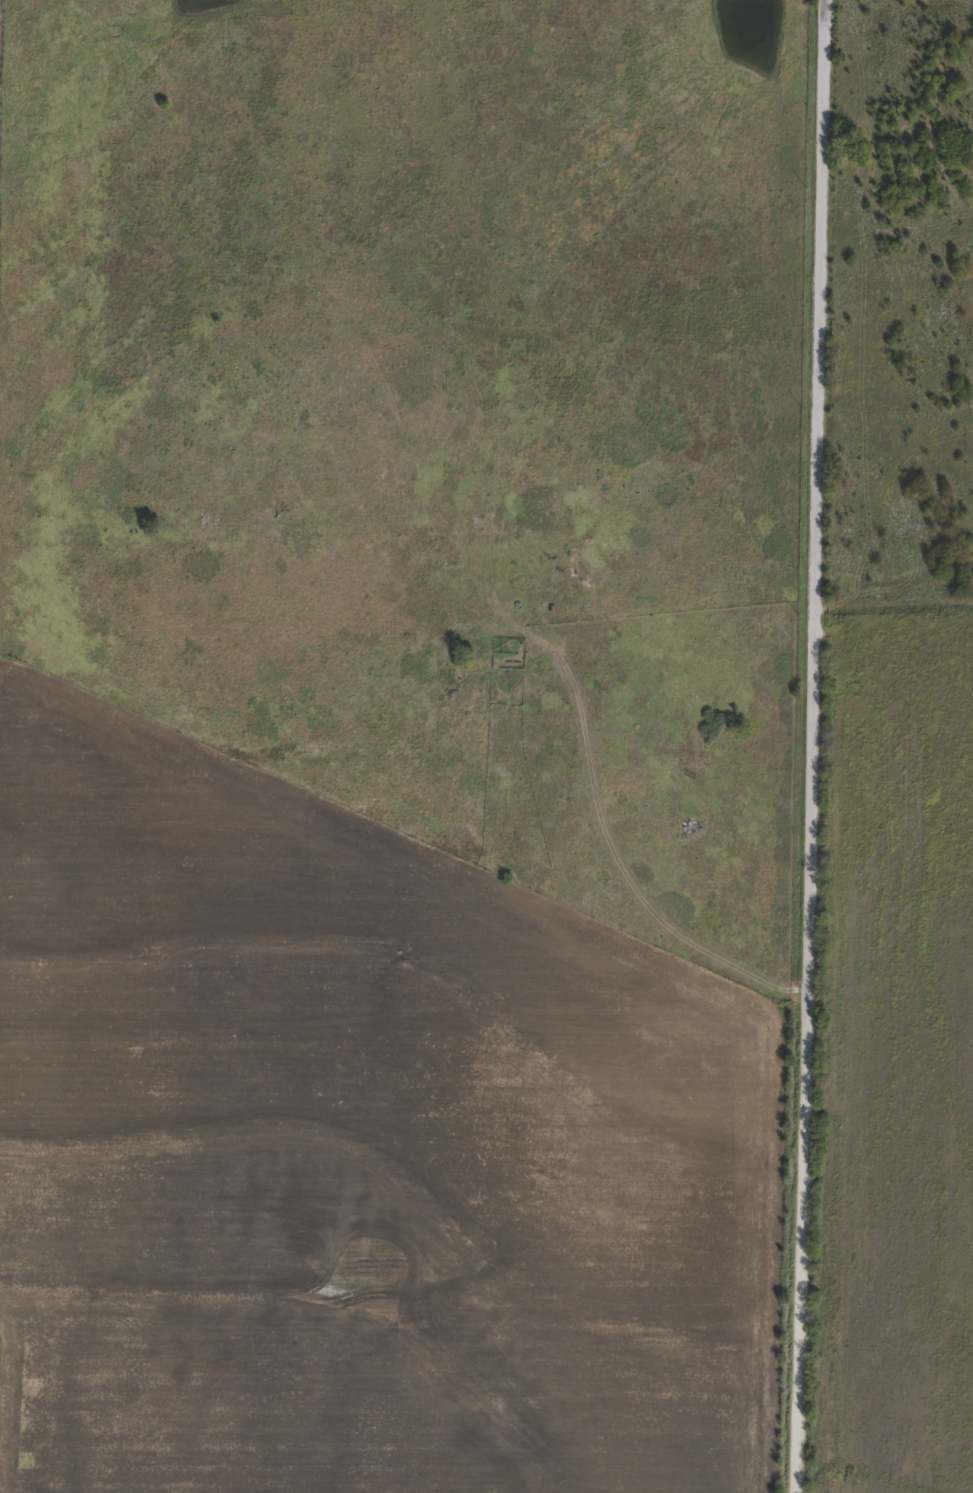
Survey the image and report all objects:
road: (821, 746)

